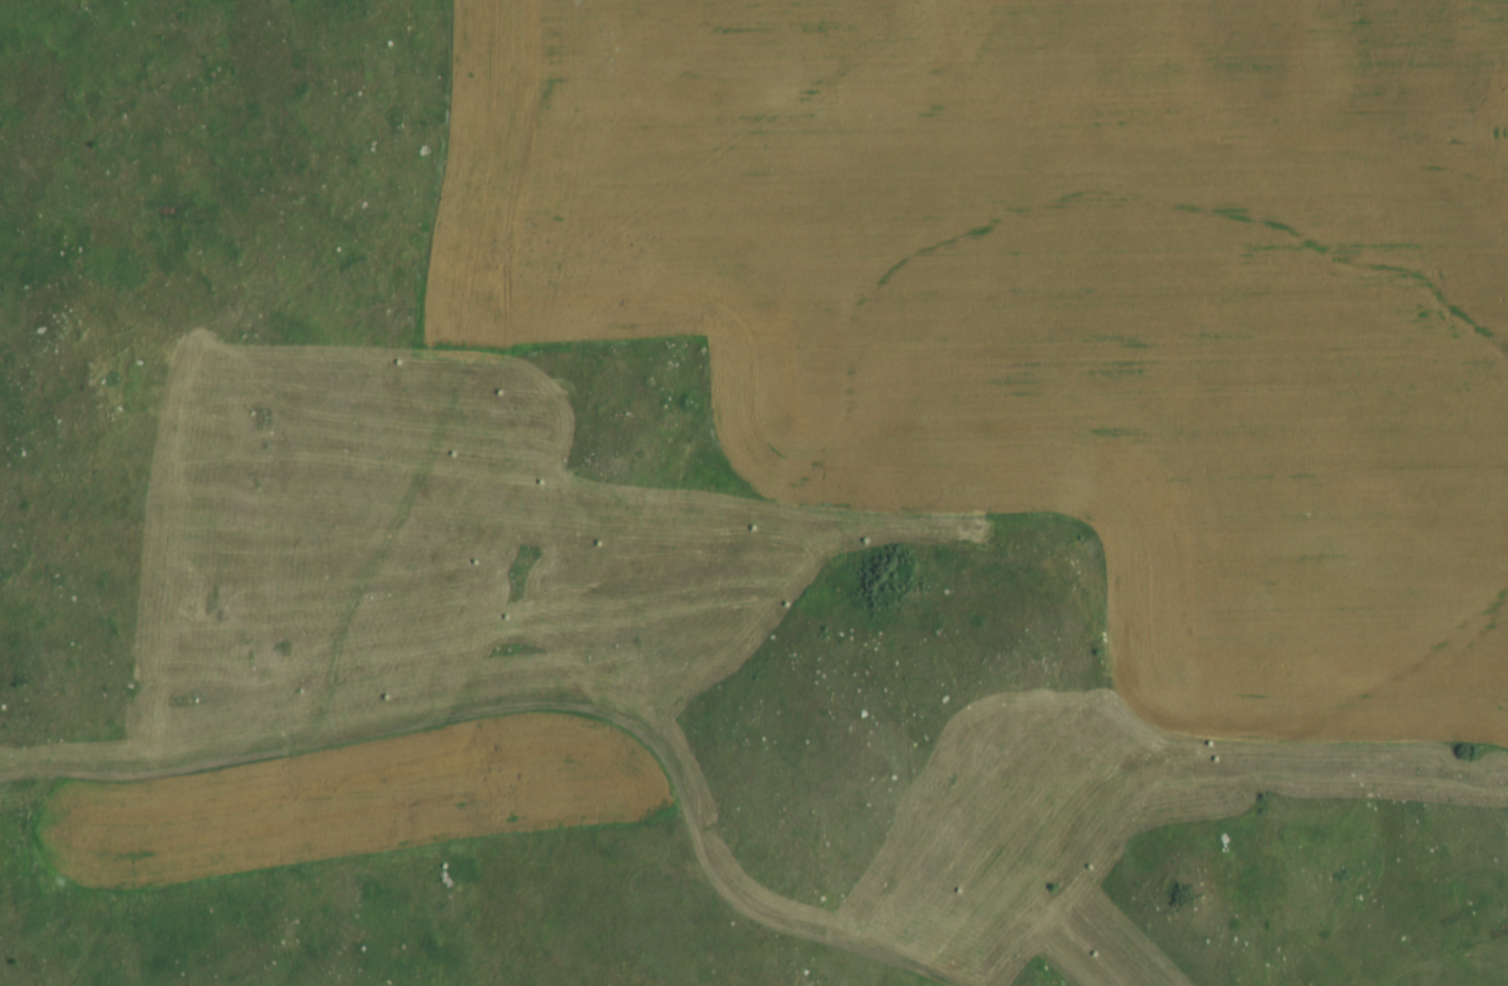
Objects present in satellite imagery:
road: (535, 709)

